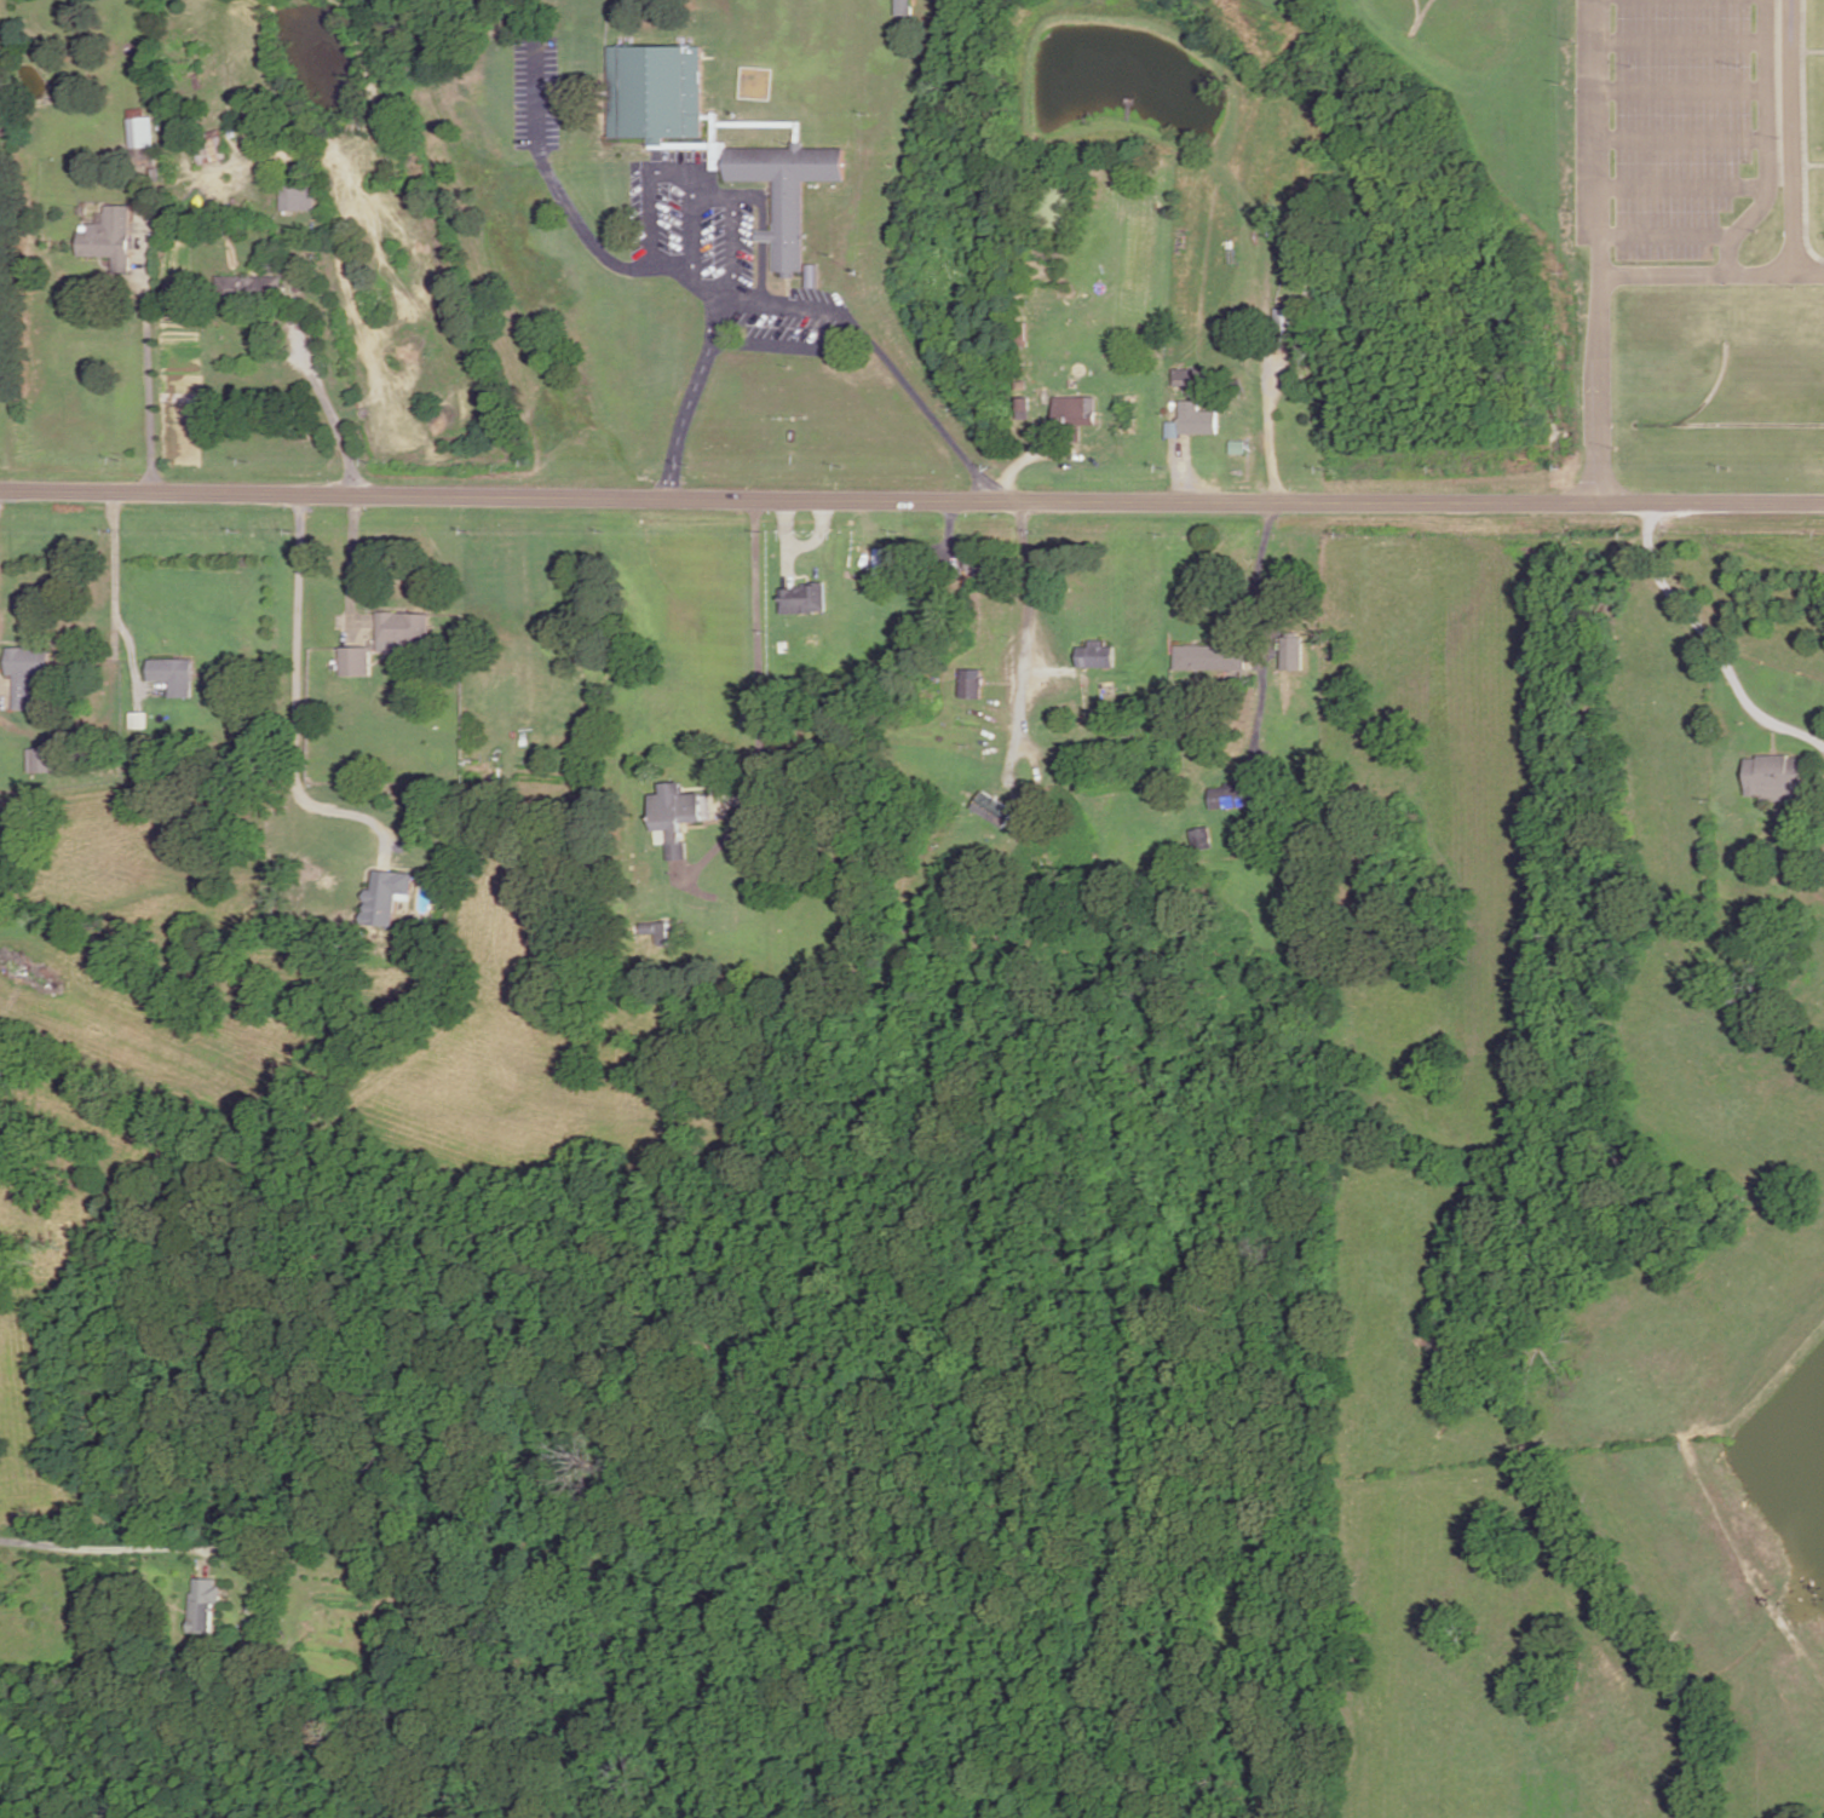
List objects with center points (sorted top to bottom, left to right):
building: (902, 7)
road: (1685, 42)
road: (1813, 53)
road: (1685, 92)
building: (657, 93)
parking lot: (534, 94)
road: (574, 96)
pier: (1126, 111)
building: (2, 126)
building: (139, 131)
parking lot: (1671, 131)
road: (1803, 136)
road: (1791, 138)
road: (1685, 139)
road: (1603, 142)
road: (1767, 145)
building: (208, 148)
road: (1813, 166)
road: (675, 174)
road: (1684, 188)
building: (787, 192)
building: (297, 195)
parking lot: (690, 220)
road: (575, 222)
road: (733, 235)
building: (110, 238)
road: (1667, 238)
road: (1256, 242)
building: (1296, 253)
building: (299, 283)
road: (1604, 283)
building: (252, 290)
road: (787, 294)
road: (804, 310)
parking lot: (789, 324)
building: (1284, 326)
building: (1019, 334)
road: (146, 359)
building: (1187, 379)
road: (320, 399)
building: (1072, 418)
building: (1195, 421)
building: (1172, 427)
building: (1238, 448)
building: (1295, 460)
road: (1174, 461)
building: (1210, 462)
road: (1014, 467)
road: (911, 501)
road: (801, 546)
road: (787, 564)
building: (983, 564)
road: (350, 569)
road: (1255, 573)
road: (114, 574)
building: (804, 600)
building: (401, 632)
road: (1710, 644)
building: (1293, 651)
building: (1094, 656)
road: (131, 657)
building: (1209, 658)
building: (355, 663)
building: (25, 674)
building: (174, 677)
building: (972, 684)
road: (1260, 695)
road: (1018, 698)
road: (758, 704)
road: (297, 707)
building: (137, 721)
building: (44, 761)
building: (1774, 779)
building: (1227, 796)
building: (674, 818)
building: (1199, 840)
building: (944, 876)
building: (386, 897)
building: (748, 898)
building: (661, 931)
road: (99, 1549)
building: (203, 1605)

